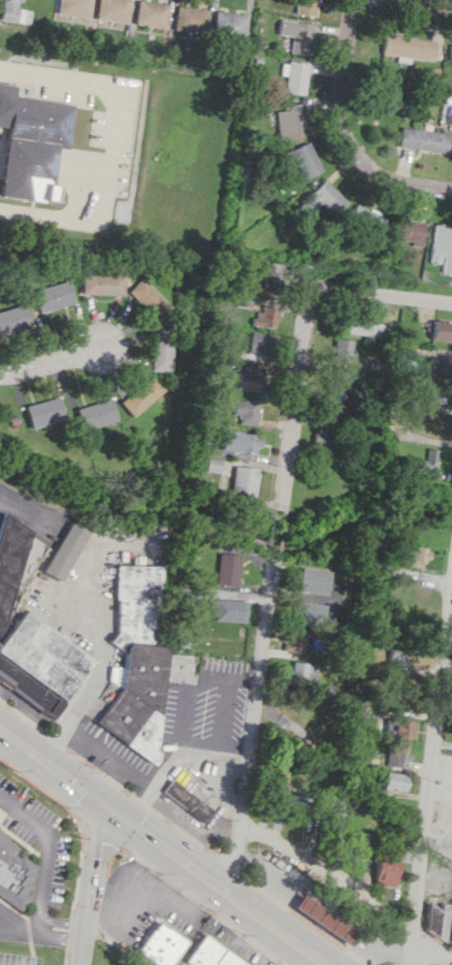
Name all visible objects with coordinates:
road: (419, 4)
building: (305, 7)
building: (73, 8)
building: (113, 10)
building: (13, 12)
building: (151, 13)
building: (190, 19)
building: (229, 24)
building: (296, 35)
building: (407, 47)
building: (450, 54)
building: (293, 76)
road: (343, 84)
building: (388, 91)
building: (290, 120)
building: (422, 139)
road: (119, 141)
building: (29, 144)
building: (304, 160)
road: (407, 181)
building: (321, 200)
building: (365, 218)
building: (441, 247)
building: (101, 284)
building: (257, 285)
road: (380, 289)
building: (51, 296)
building: (147, 298)
building: (242, 301)
building: (265, 316)
building: (13, 318)
building: (360, 327)
building: (441, 330)
building: (258, 343)
building: (160, 349)
building: (342, 350)
road: (50, 362)
building: (437, 368)
building: (247, 381)
building: (342, 384)
building: (434, 392)
building: (140, 395)
road: (294, 395)
building: (245, 410)
building: (43, 412)
building: (335, 412)
building: (95, 414)
building: (321, 438)
building: (240, 441)
building: (428, 460)
building: (243, 483)
road: (23, 515)
building: (64, 551)
building: (415, 555)
building: (9, 558)
building: (227, 569)
building: (313, 580)
building: (18, 591)
building: (335, 601)
building: (228, 610)
building: (308, 613)
building: (293, 641)
road: (113, 647)
building: (45, 655)
building: (397, 655)
building: (136, 662)
building: (303, 672)
building: (30, 689)
building: (404, 729)
road: (251, 730)
building: (398, 755)
road: (429, 770)
building: (395, 781)
building: (280, 782)
building: (186, 801)
building: (297, 804)
building: (356, 848)
road: (165, 849)
road: (46, 850)
road: (312, 863)
road: (144, 865)
building: (385, 866)
building: (13, 873)
road: (171, 874)
road: (92, 885)
road: (159, 888)
building: (436, 920)
road: (43, 928)
building: (450, 930)
road: (432, 941)
building: (161, 945)
building: (211, 955)

